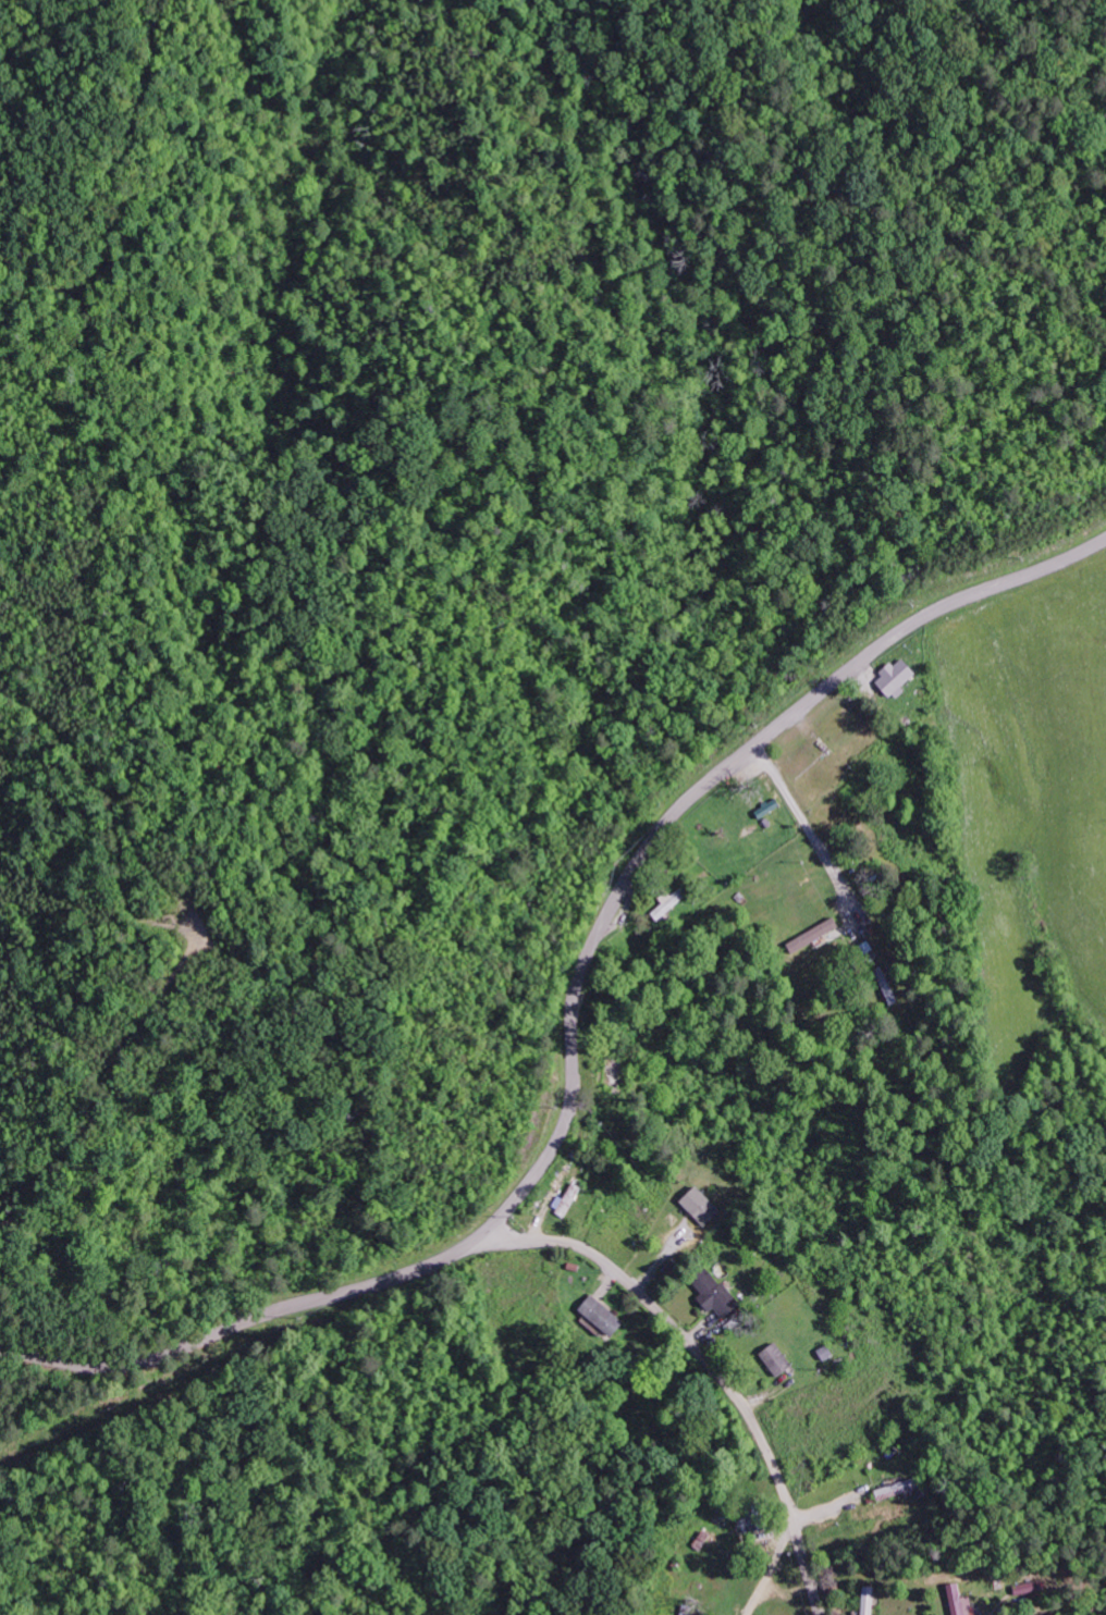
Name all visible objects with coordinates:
building: (894, 677)
road: (690, 804)
building: (668, 904)
building: (810, 935)
building: (888, 987)
building: (568, 1201)
building: (698, 1205)
building: (712, 1294)
building: (599, 1316)
road: (244, 1323)
building: (774, 1359)
road: (710, 1365)
building: (893, 1490)
building: (864, 1600)
building: (951, 1600)

